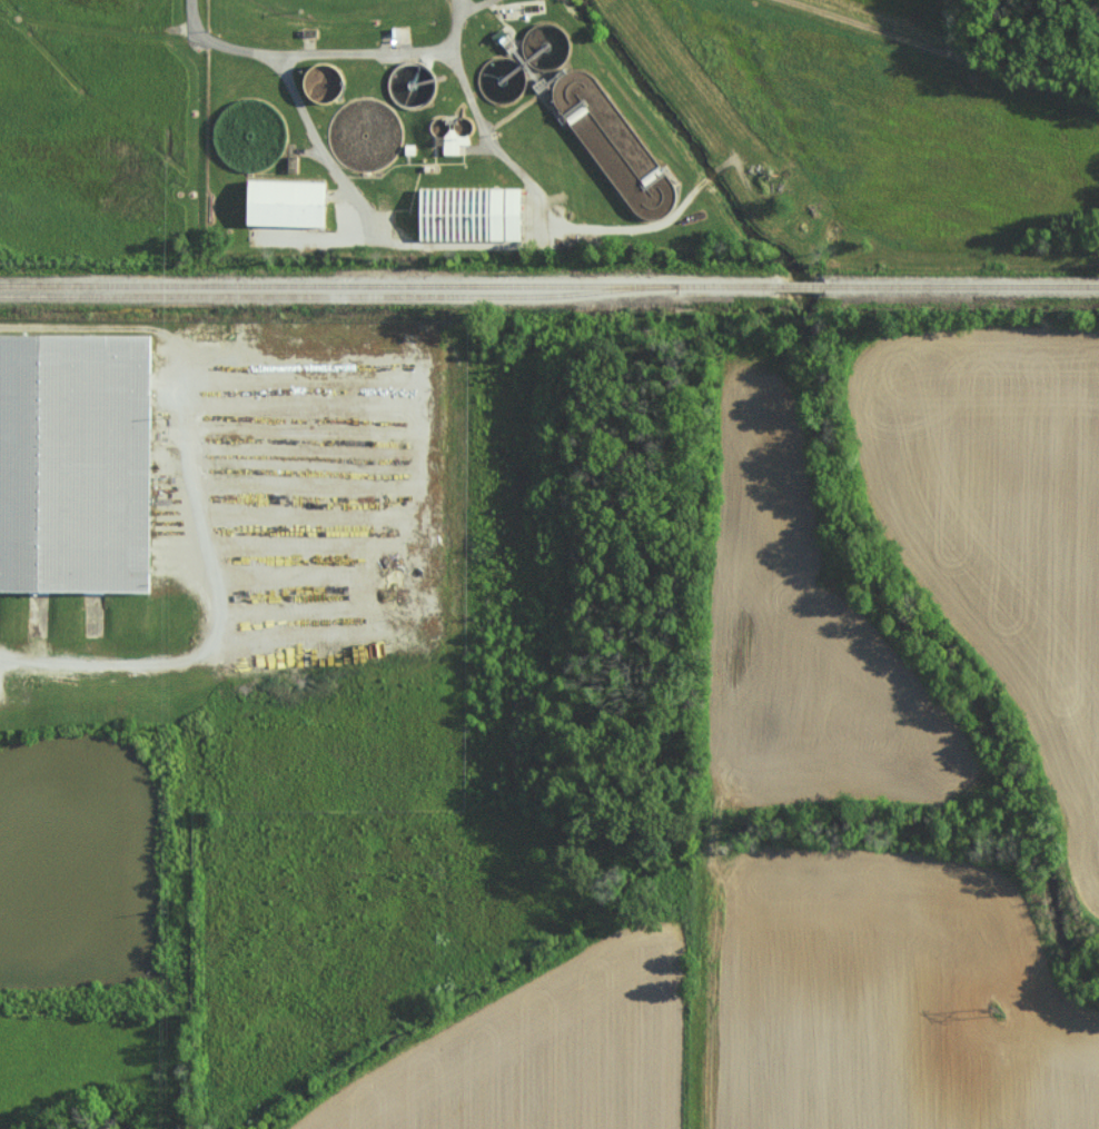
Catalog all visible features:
road: (462, 19)
road: (386, 56)
road: (309, 132)
building: (280, 202)
building: (463, 214)
railway: (387, 286)
railway: (799, 286)
railway: (961, 286)
railway: (349, 300)
building: (75, 465)
road: (103, 663)

